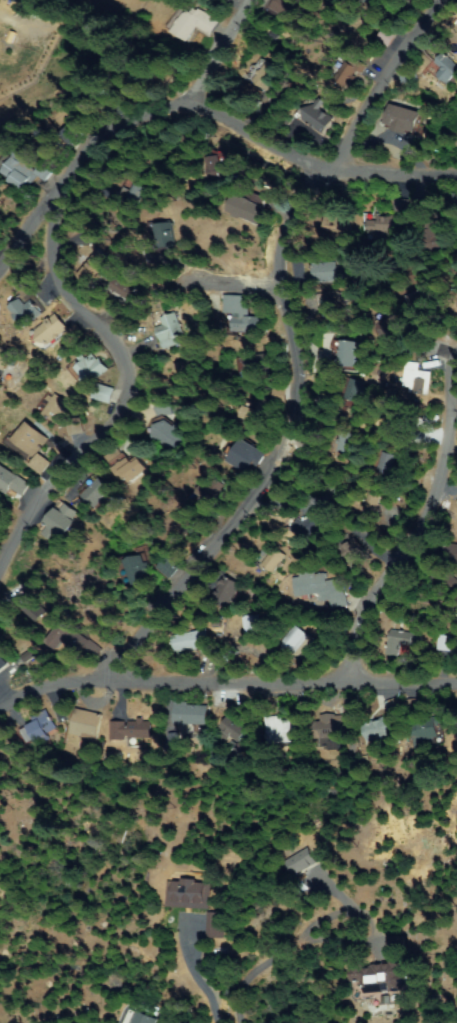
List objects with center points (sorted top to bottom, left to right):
building: (20, 1)
building: (367, 1)
building: (44, 5)
building: (288, 10)
building: (192, 23)
building: (456, 30)
building: (447, 68)
building: (348, 69)
building: (265, 76)
road: (395, 89)
building: (112, 99)
building: (314, 117)
building: (403, 120)
building: (454, 122)
road: (125, 131)
building: (49, 141)
road: (266, 141)
building: (223, 164)
building: (23, 170)
building: (141, 192)
building: (398, 204)
building: (253, 207)
building: (415, 207)
building: (337, 223)
building: (381, 227)
building: (173, 239)
building: (431, 239)
building: (96, 270)
building: (324, 271)
building: (127, 288)
building: (455, 301)
road: (239, 304)
building: (423, 304)
building: (327, 311)
building: (29, 313)
building: (239, 314)
building: (386, 326)
building: (167, 329)
building: (51, 331)
building: (348, 353)
building: (4, 358)
building: (253, 363)
building: (89, 368)
road: (98, 370)
building: (178, 376)
building: (416, 379)
building: (355, 390)
building: (98, 392)
building: (54, 407)
building: (156, 407)
building: (253, 409)
building: (392, 426)
building: (161, 433)
building: (32, 441)
building: (346, 444)
road: (289, 449)
building: (242, 454)
building: (41, 463)
building: (387, 463)
building: (125, 466)
building: (11, 481)
building: (96, 491)
building: (333, 491)
building: (209, 492)
building: (373, 500)
building: (59, 521)
building: (307, 527)
building: (450, 552)
building: (351, 554)
building: (270, 558)
building: (167, 566)
building: (133, 571)
road: (393, 572)
building: (444, 580)
building: (320, 586)
building: (226, 589)
building: (28, 604)
building: (251, 623)
building: (72, 641)
building: (188, 641)
building: (294, 642)
building: (400, 642)
building: (445, 643)
building: (2, 662)
road: (228, 686)
building: (188, 714)
building: (86, 724)
building: (385, 725)
building: (330, 726)
building: (36, 727)
building: (236, 727)
building: (137, 731)
building: (282, 731)
building: (425, 732)
building: (174, 741)
building: (300, 862)
building: (187, 894)
building: (213, 925)
building: (383, 971)
building: (145, 1018)

